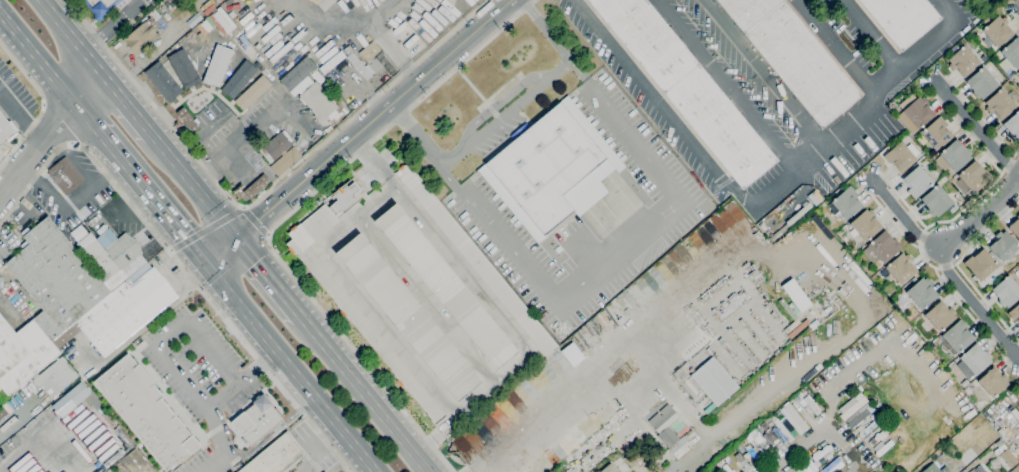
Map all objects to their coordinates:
building: (310, 0)
building: (101, 7)
building: (208, 7)
building: (155, 14)
road: (334, 16)
building: (194, 19)
building: (902, 19)
road: (108, 24)
building: (161, 24)
building: (997, 31)
road: (67, 34)
building: (142, 37)
road: (876, 37)
building: (350, 48)
road: (392, 48)
road: (835, 50)
building: (1010, 55)
building: (794, 56)
building: (371, 61)
building: (963, 61)
building: (332, 62)
building: (216, 65)
building: (183, 69)
road: (411, 70)
road: (765, 73)
building: (1018, 73)
road: (45, 74)
building: (237, 79)
building: (163, 82)
building: (981, 83)
road: (728, 85)
building: (327, 86)
building: (687, 87)
building: (310, 90)
building: (251, 92)
building: (334, 93)
road: (122, 102)
building: (1000, 104)
road: (42, 106)
road: (12, 110)
building: (914, 112)
road: (505, 114)
road: (264, 120)
road: (57, 125)
building: (1013, 126)
building: (5, 129)
road: (978, 130)
road: (358, 131)
road: (48, 133)
building: (937, 133)
road: (32, 136)
road: (415, 136)
building: (276, 147)
road: (229, 151)
building: (901, 156)
building: (953, 156)
road: (369, 158)
building: (285, 161)
building: (551, 169)
road: (201, 173)
building: (65, 176)
building: (948, 177)
building: (971, 178)
building: (917, 182)
road: (391, 183)
road: (192, 187)
road: (262, 195)
road: (149, 196)
building: (346, 197)
road: (765, 199)
building: (936, 201)
building: (847, 203)
road: (982, 212)
road: (286, 214)
road: (255, 224)
building: (865, 225)
road: (651, 226)
road: (206, 228)
building: (1015, 228)
railway: (183, 238)
traffic signals: (234, 240)
building: (1018, 241)
road: (920, 244)
building: (1002, 246)
building: (881, 248)
building: (852, 250)
building: (476, 260)
road: (179, 262)
road: (945, 263)
traffic signals: (208, 264)
building: (980, 264)
building: (901, 268)
building: (874, 278)
road: (267, 279)
building: (808, 284)
building: (446, 286)
building: (1006, 292)
building: (921, 293)
building: (795, 295)
road: (357, 296)
building: (76, 297)
building: (354, 305)
road: (492, 305)
building: (1014, 313)
building: (940, 316)
building: (408, 317)
road: (189, 321)
road: (635, 336)
building: (957, 337)
building: (571, 354)
building: (973, 361)
road: (258, 365)
road: (293, 367)
building: (56, 377)
building: (714, 381)
building: (993, 382)
road: (360, 395)
building: (69, 399)
road: (831, 400)
building: (811, 404)
building: (852, 406)
building: (5, 410)
building: (145, 411)
building: (772, 418)
building: (255, 419)
building: (794, 419)
road: (450, 424)
building: (665, 425)
building: (765, 426)
building: (781, 431)
building: (771, 435)
building: (878, 437)
building: (756, 441)
road: (217, 442)
building: (999, 444)
road: (426, 445)
road: (27, 447)
road: (255, 447)
building: (680, 447)
building: (884, 448)
road: (847, 449)
building: (821, 453)
building: (275, 456)
building: (631, 458)
building: (1009, 458)
building: (728, 460)
building: (136, 462)
building: (743, 462)
building: (832, 464)
building: (609, 468)
building: (934, 468)
building: (978, 469)
building: (1016, 469)

